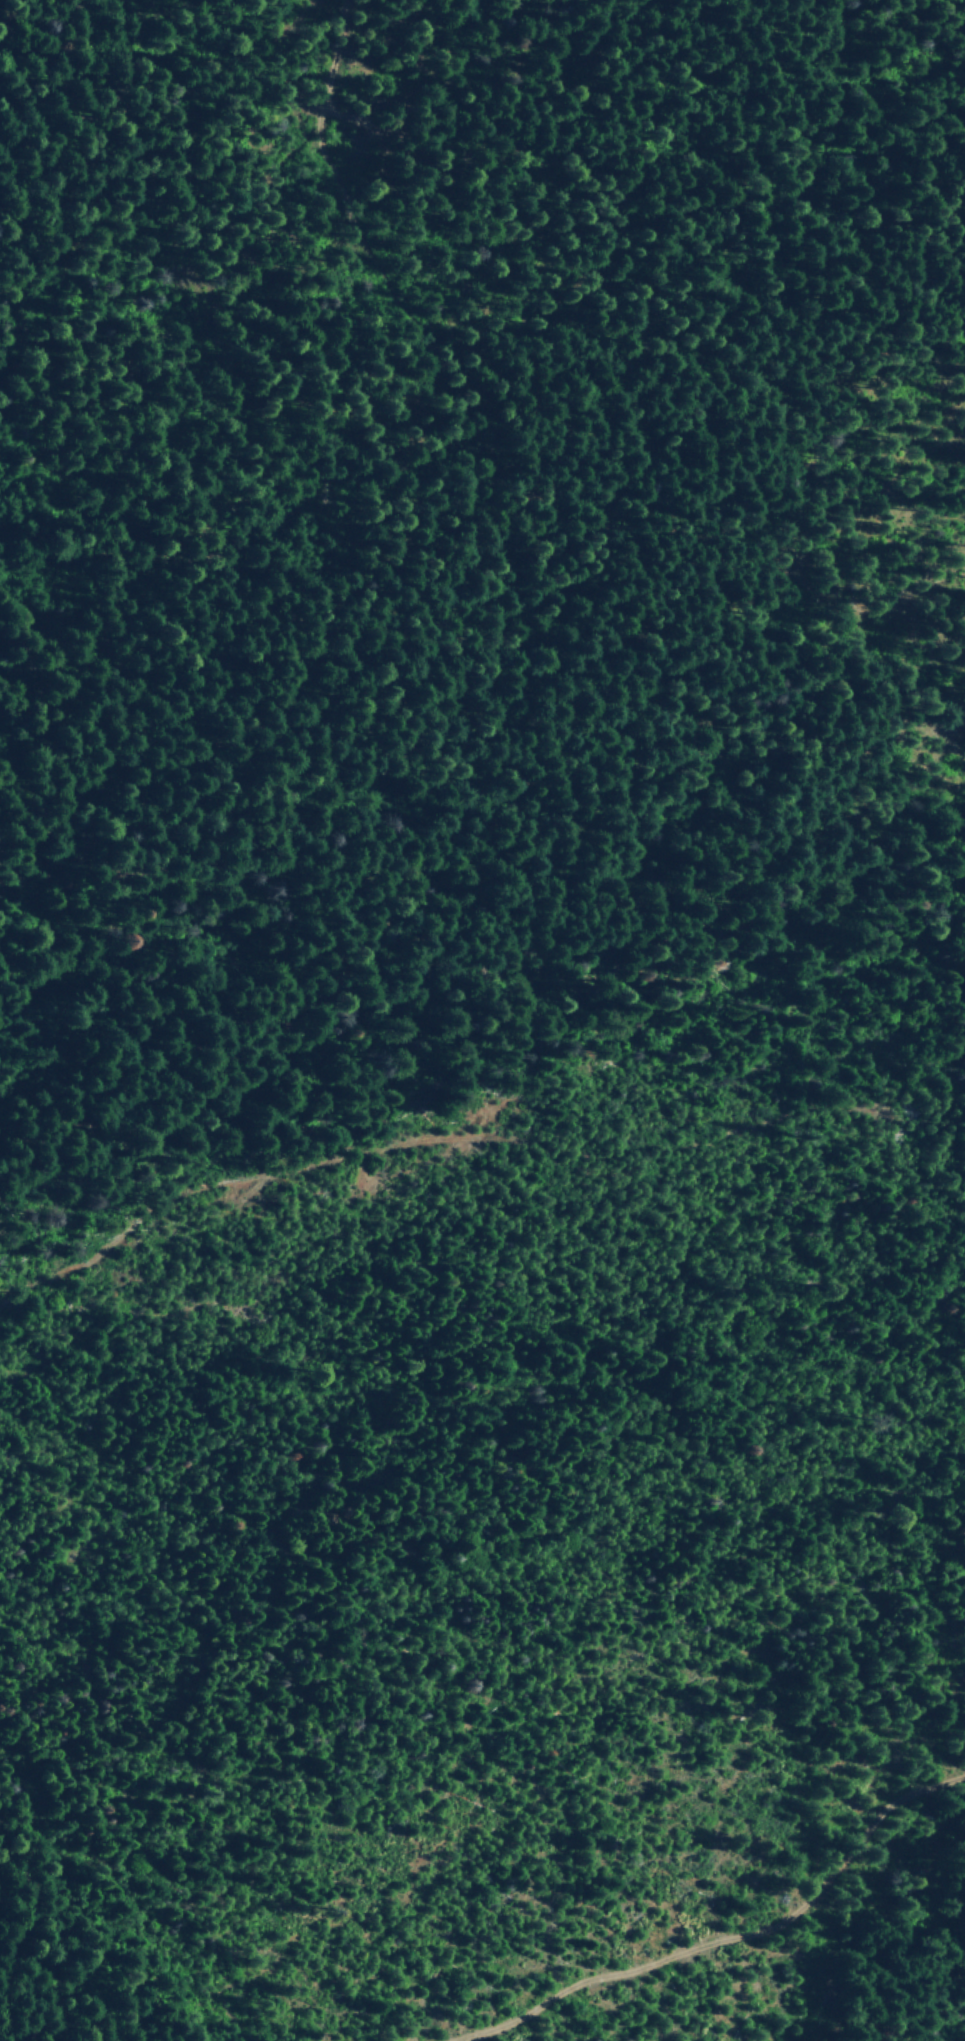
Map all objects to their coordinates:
road: (194, 53)
road: (324, 121)
road: (736, 1939)

